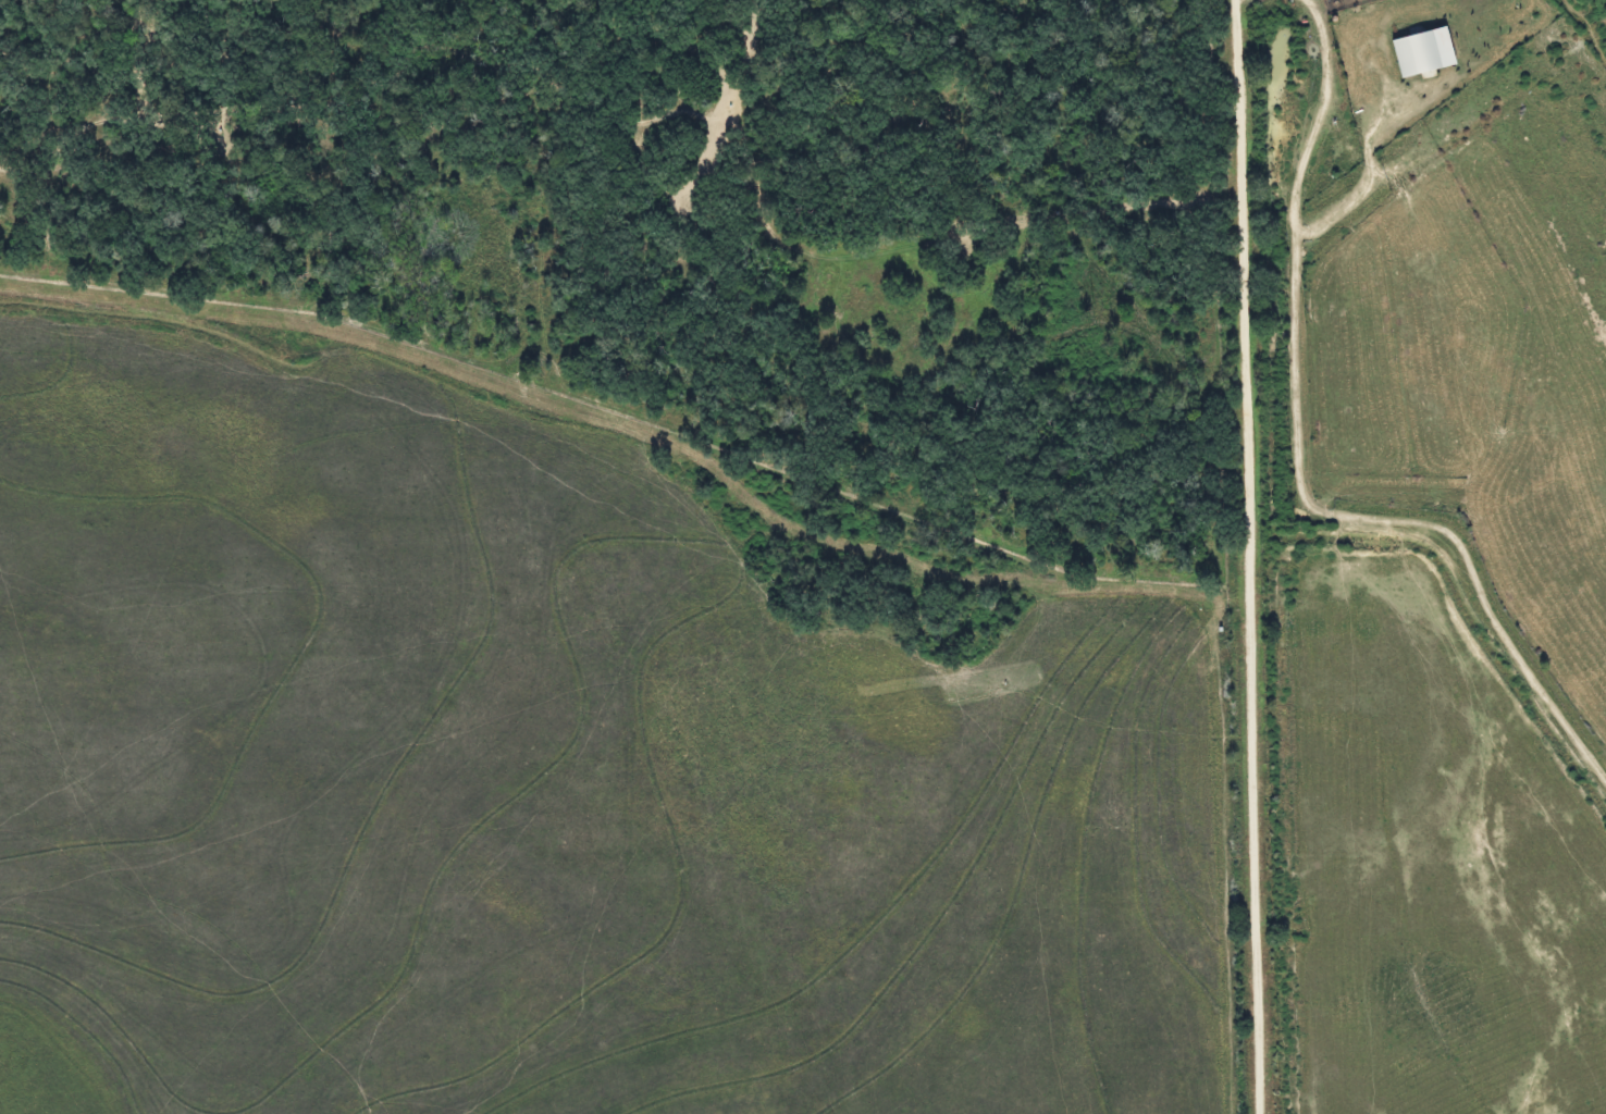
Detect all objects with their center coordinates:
building: (1418, 57)

